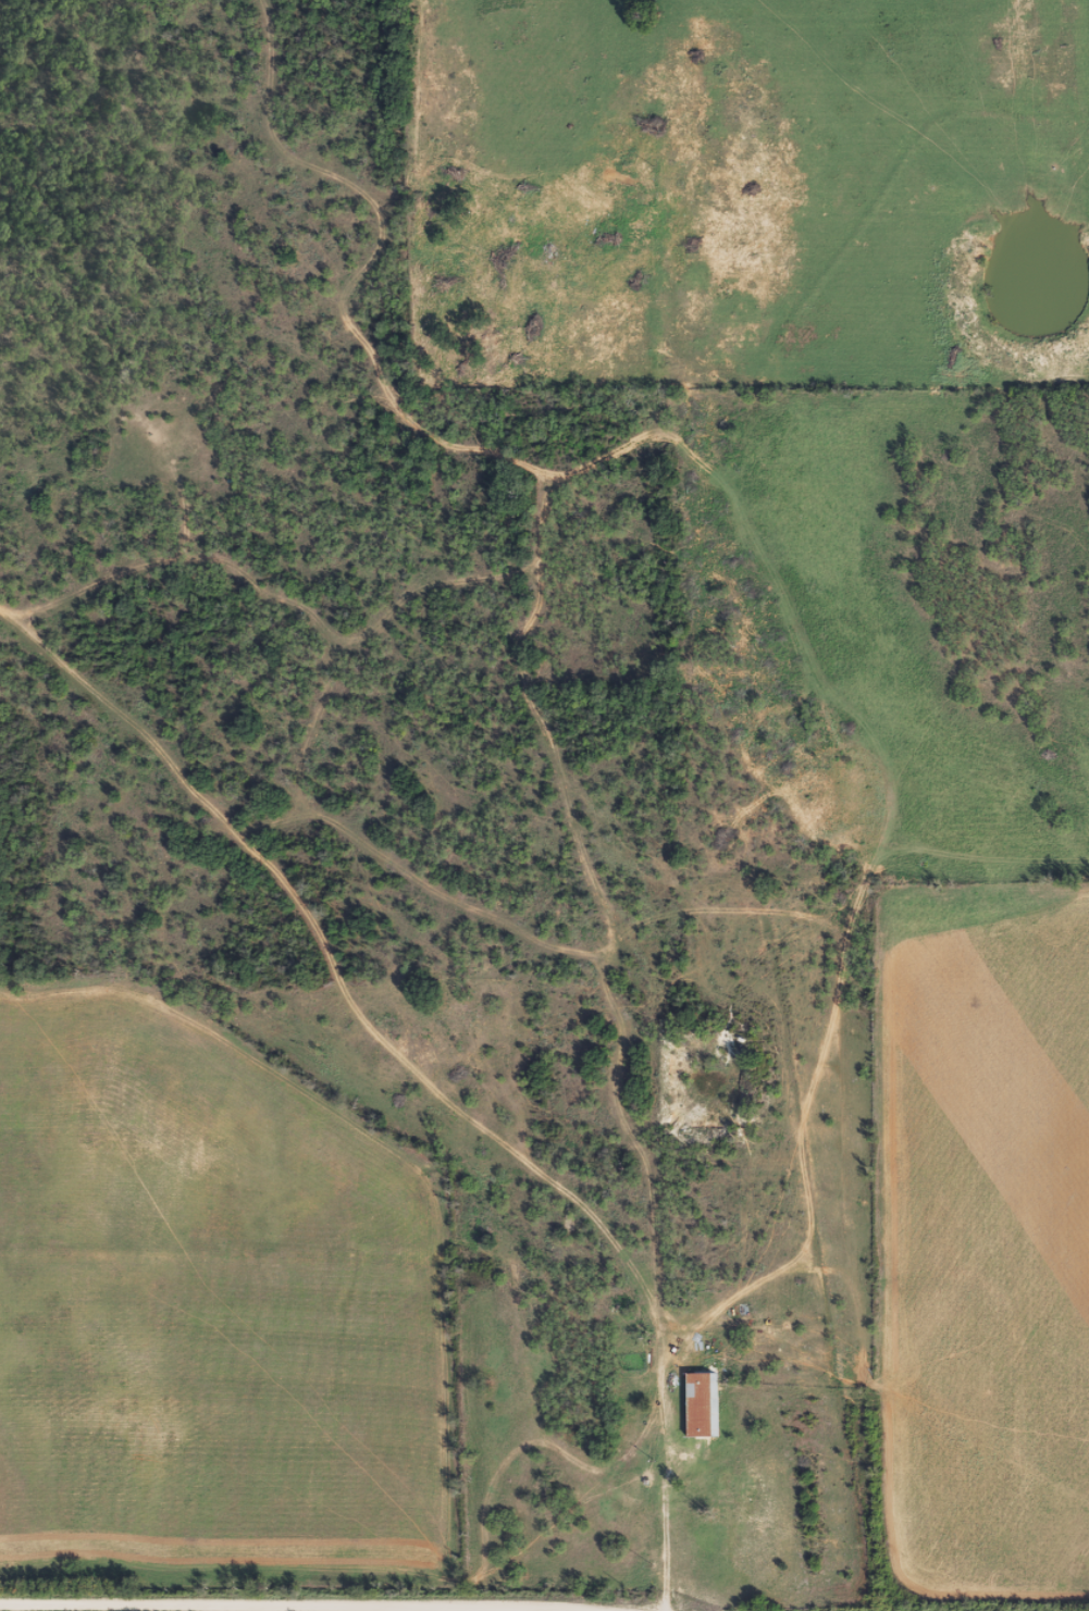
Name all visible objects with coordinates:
building: (698, 1413)

